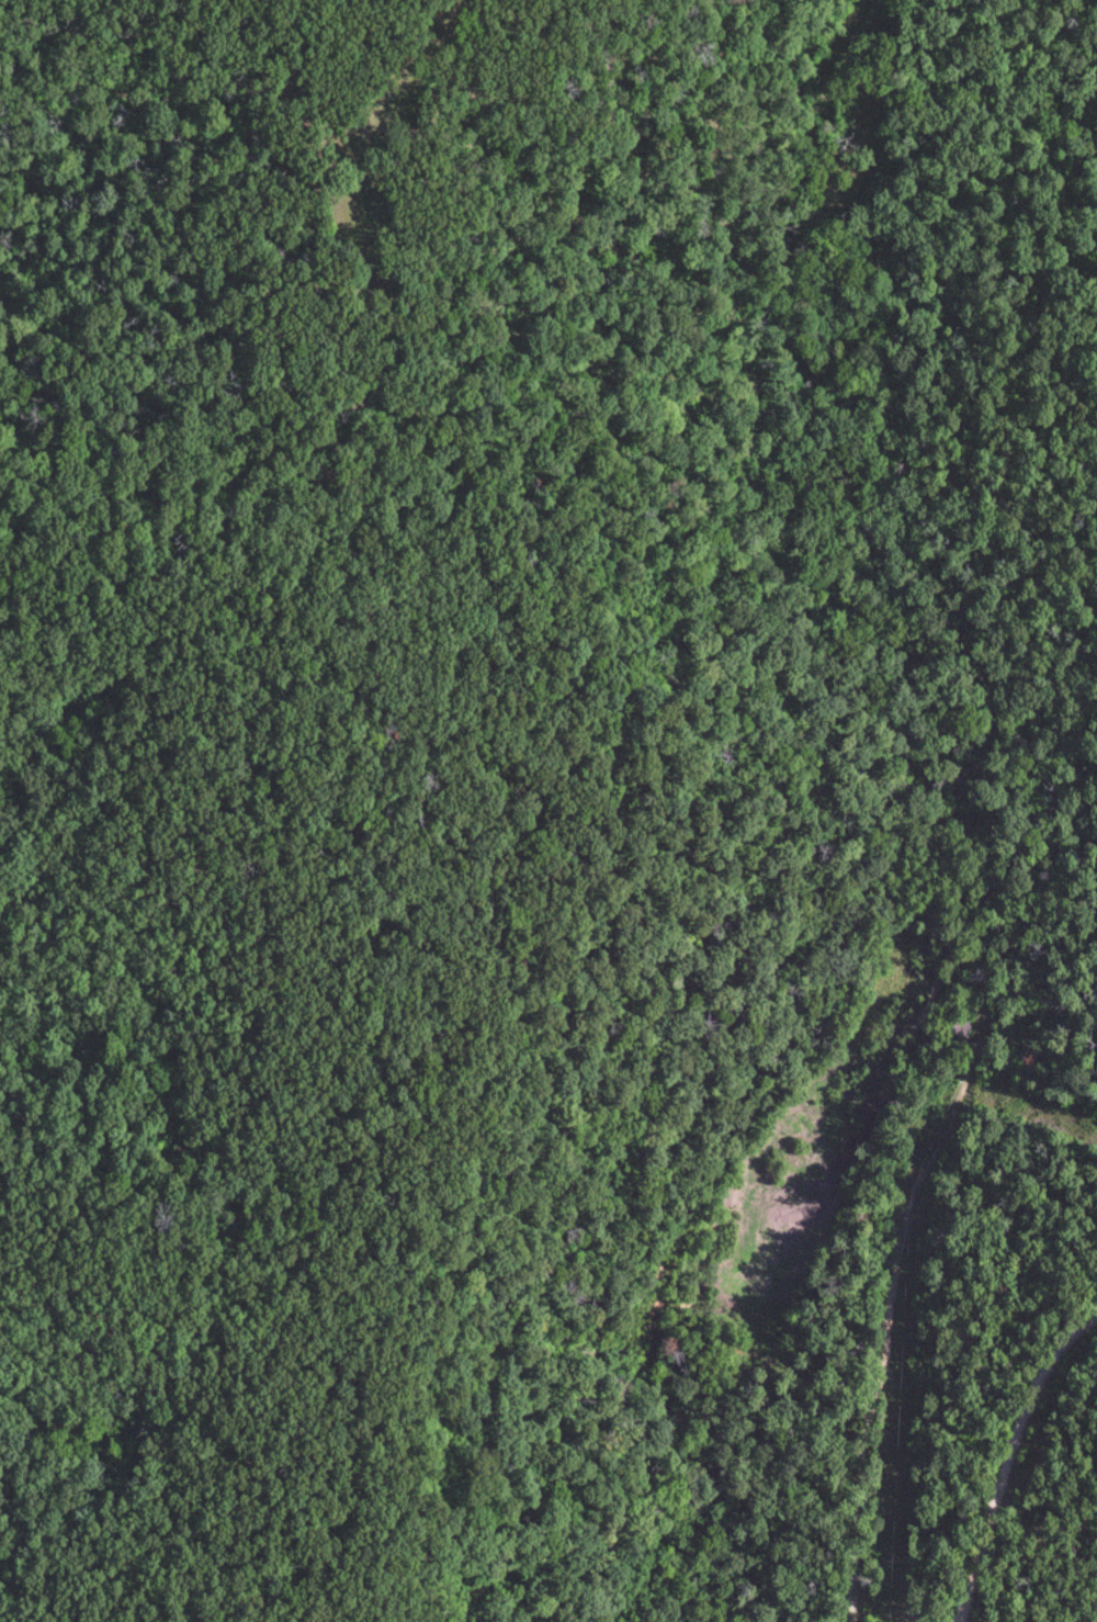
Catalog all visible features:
road: (1006, 1456)

